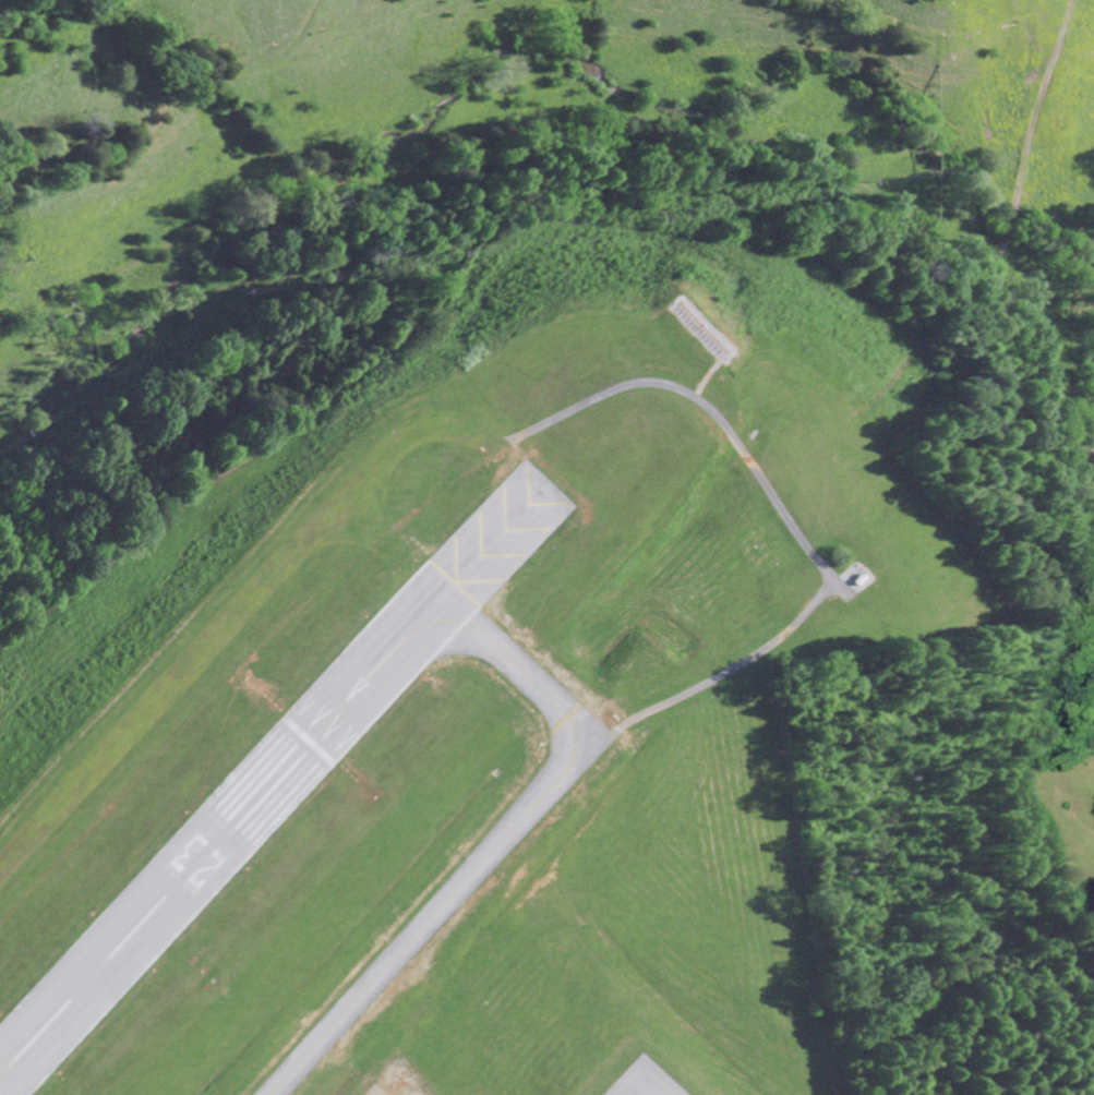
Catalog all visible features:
road: (600, 239)
road: (1073, 485)
airport: (474, 705)
airport runway: (271, 779)
airport taxiway: (490, 849)
airport apron: (374, 1090)

